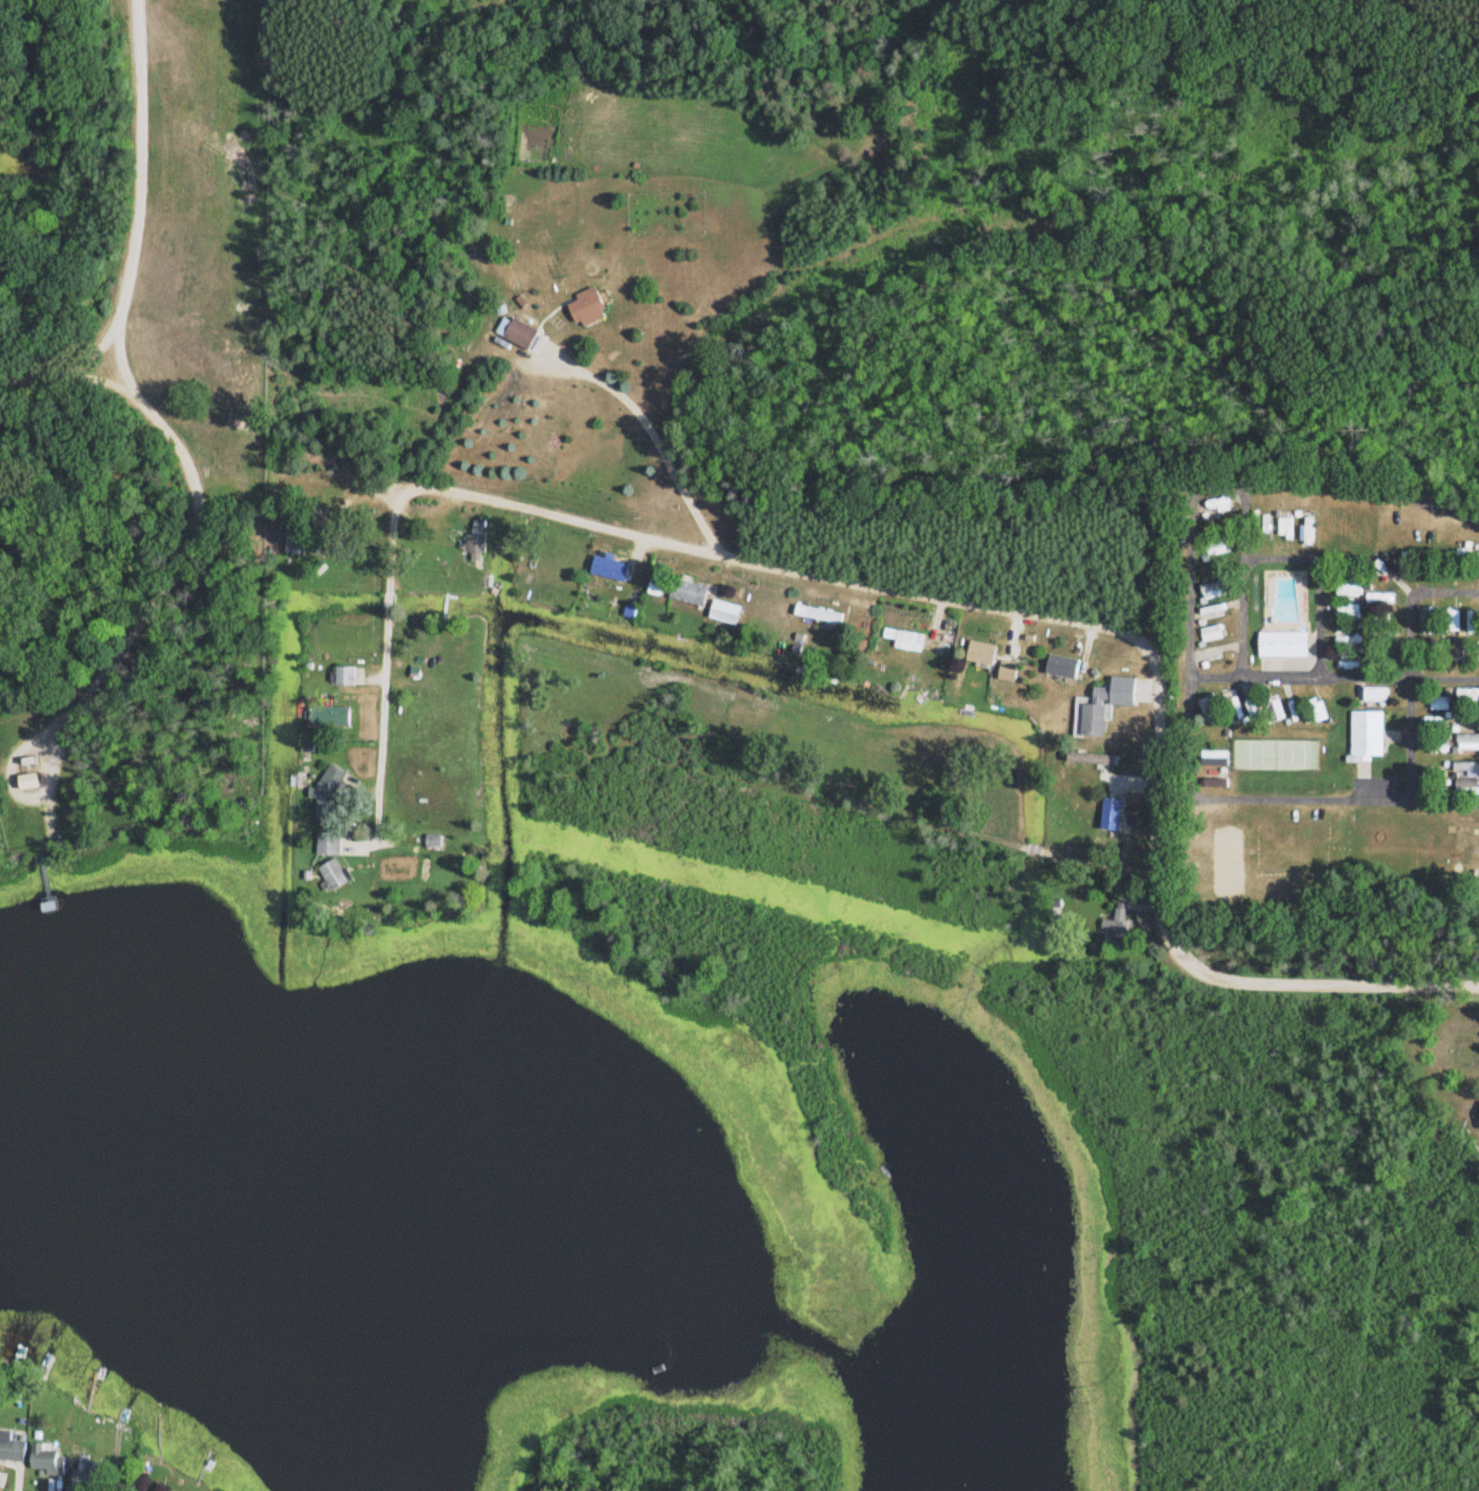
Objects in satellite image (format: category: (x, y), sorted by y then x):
building: (592, 309)
building: (521, 333)
road: (67, 352)
road: (94, 385)
road: (1429, 435)
road: (155, 439)
road: (651, 439)
road: (1282, 490)
building: (479, 544)
building: (344, 548)
building: (619, 567)
road: (1408, 578)
building: (664, 583)
building: (695, 592)
road: (388, 607)
building: (1209, 610)
building: (730, 613)
road: (1034, 614)
building: (835, 617)
building: (1208, 634)
building: (900, 640)
building: (1280, 644)
building: (975, 653)
road: (1471, 653)
building: (1059, 667)
building: (1002, 672)
building: (349, 676)
building: (1371, 695)
building: (1466, 697)
building: (1230, 706)
building: (1273, 711)
building: (332, 717)
building: (1463, 719)
building: (1090, 720)
building: (1363, 734)
road: (382, 740)
building: (1214, 760)
building: (34, 782)
building: (330, 796)
building: (333, 844)
building: (437, 844)
building: (337, 875)
building: (1117, 922)
building: (1478, 1115)
building: (15, 1449)
building: (48, 1460)
building: (86, 1479)
road: (715, 1486)

